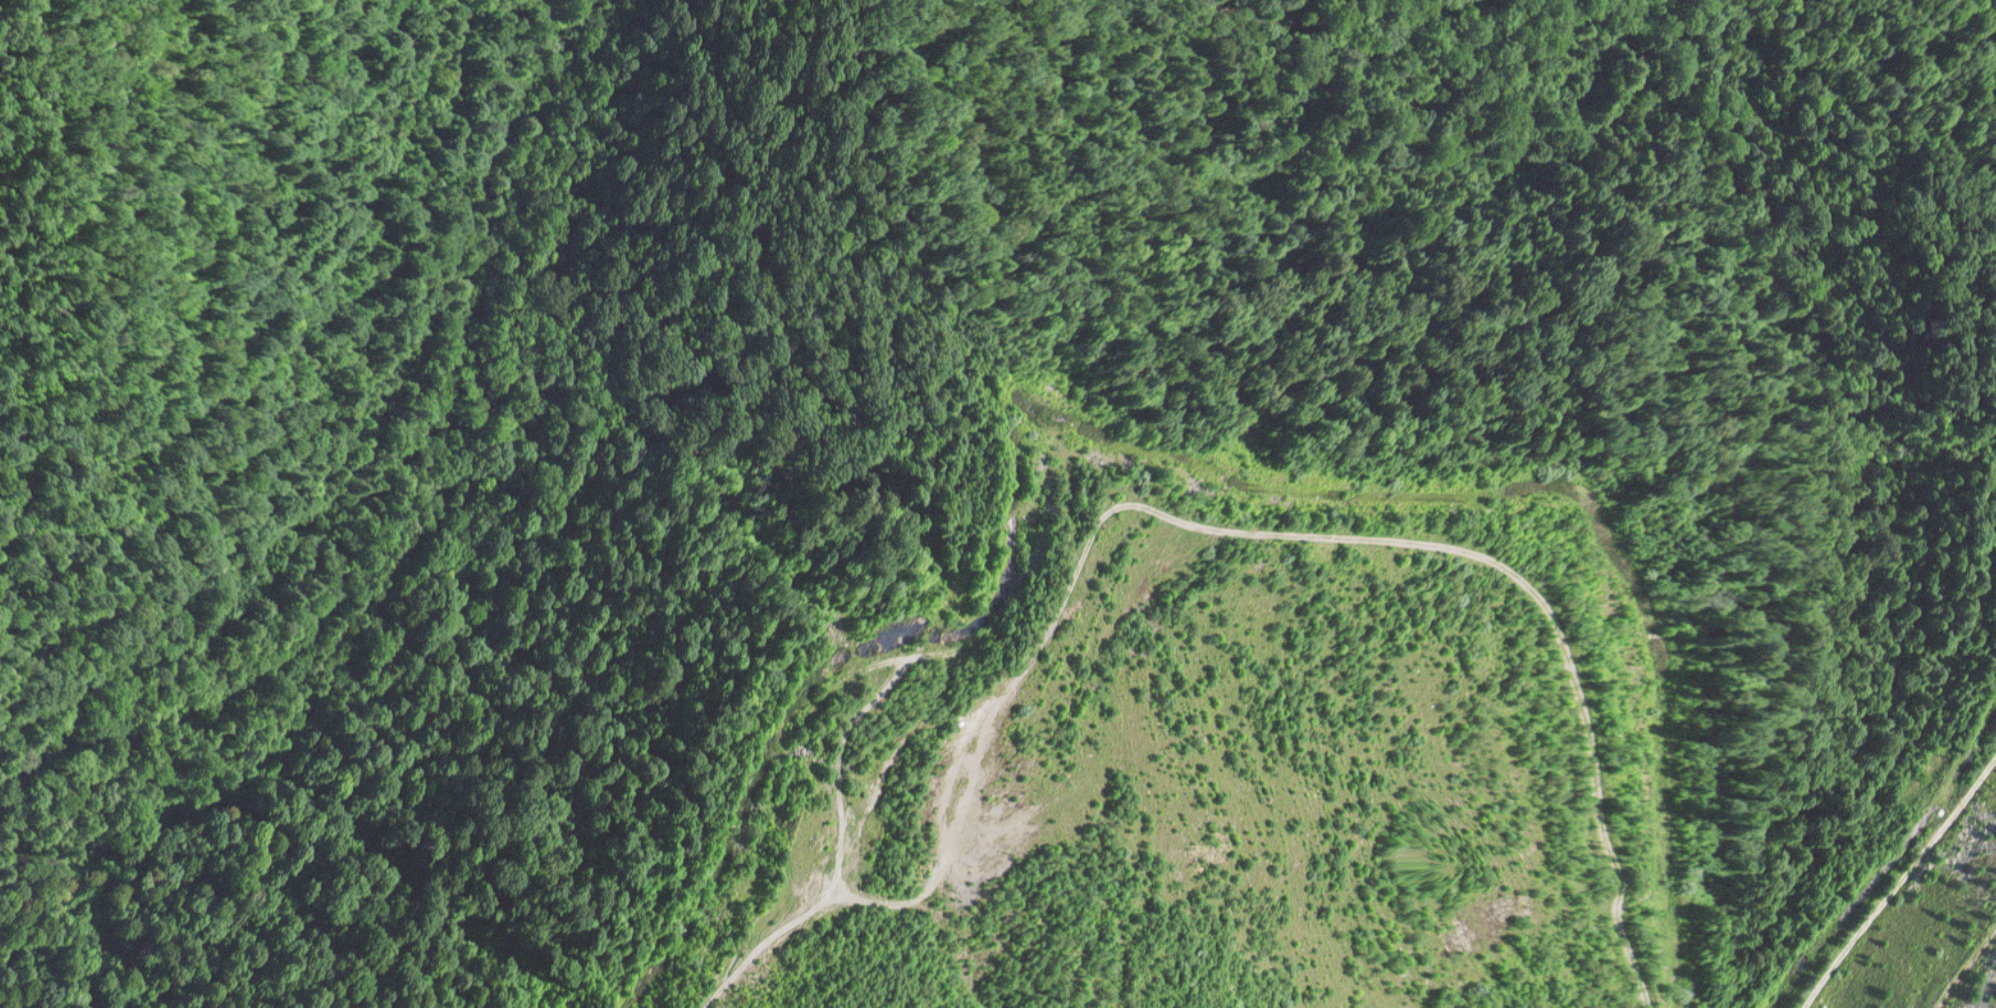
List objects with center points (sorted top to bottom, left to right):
road: (359, 433)
quarry: (998, 504)

